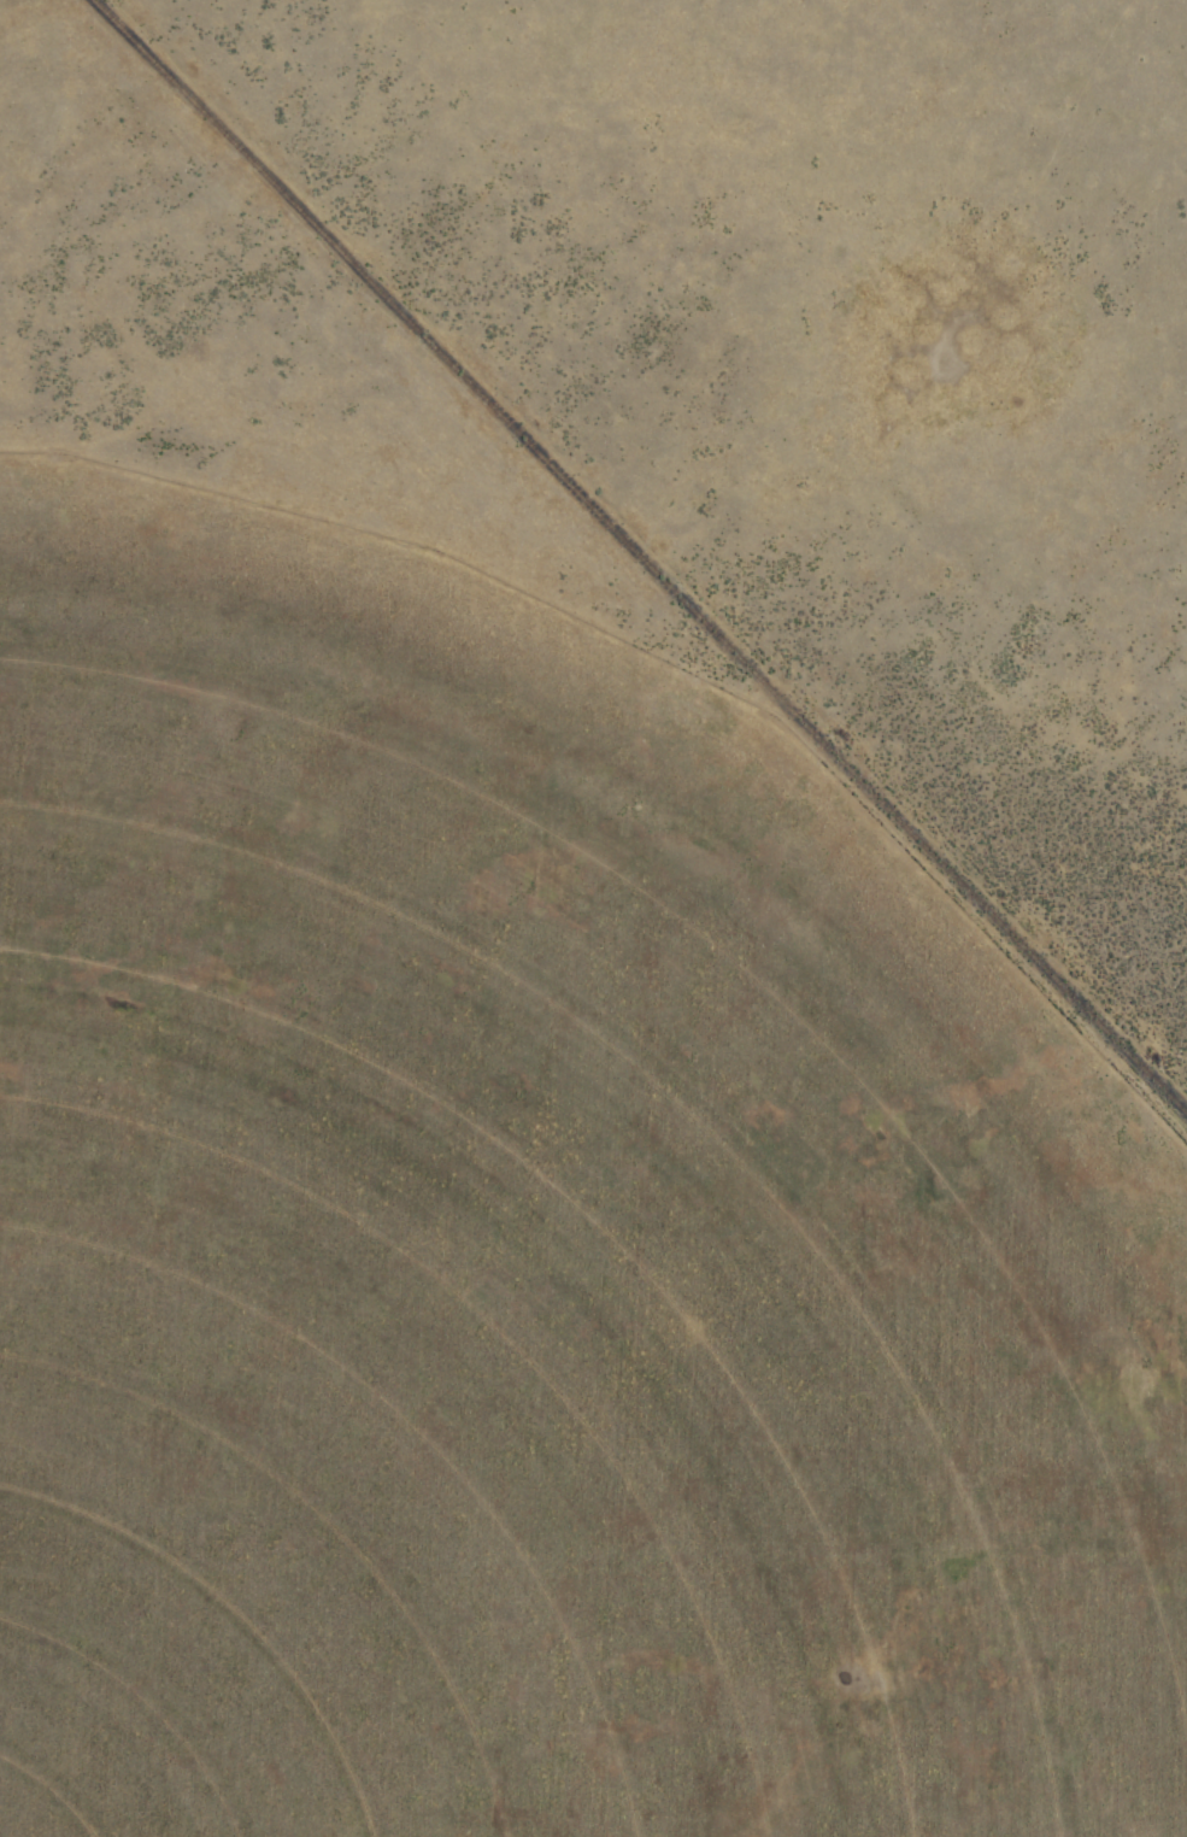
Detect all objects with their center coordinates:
railway: (640, 558)
crop: (593, 918)

